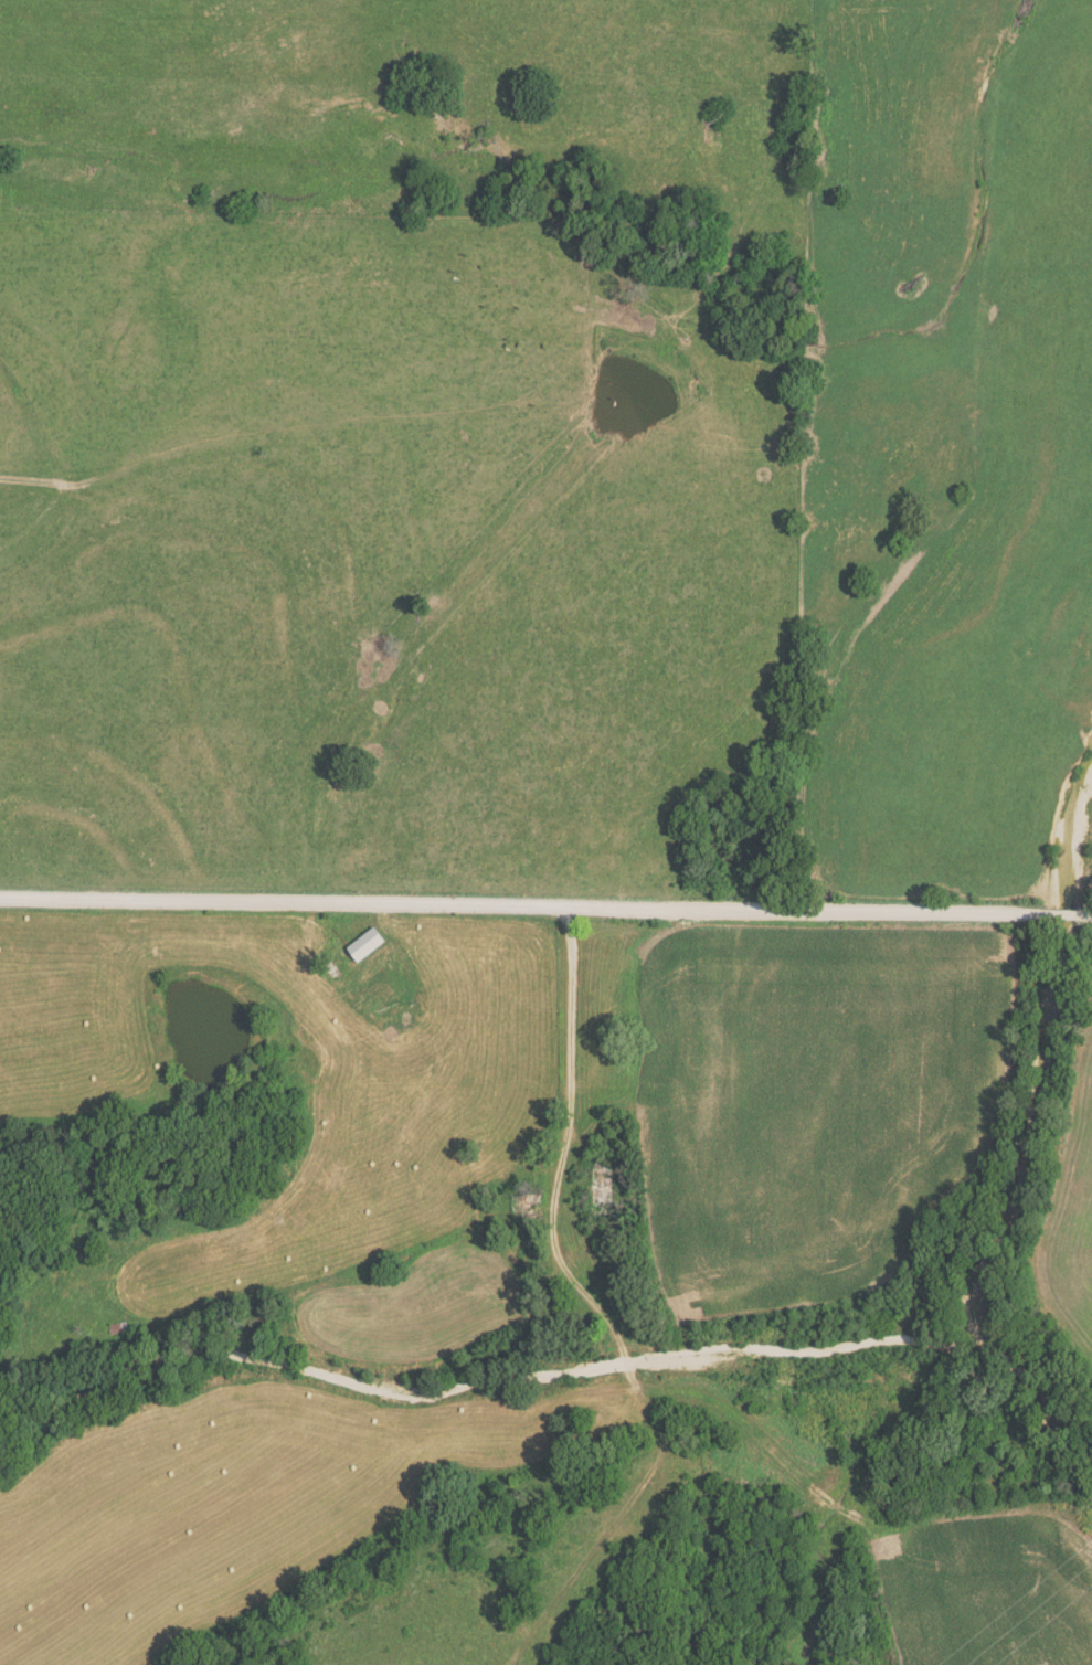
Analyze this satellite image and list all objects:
road: (545, 913)
building: (365, 944)
road: (571, 1050)
building: (605, 1188)

